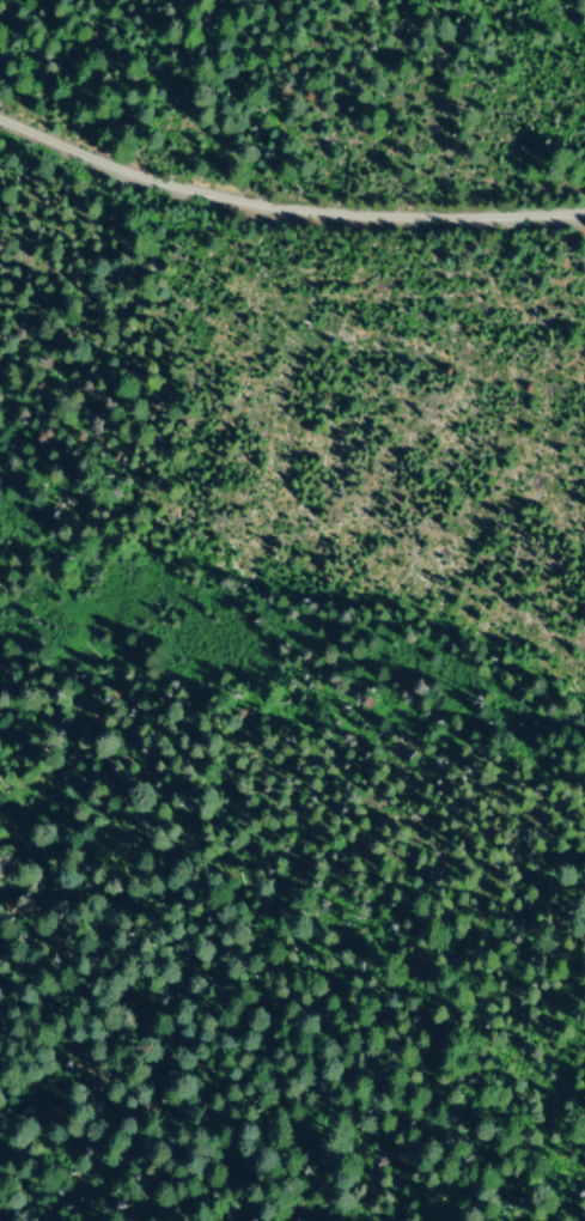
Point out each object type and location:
road: (285, 217)

